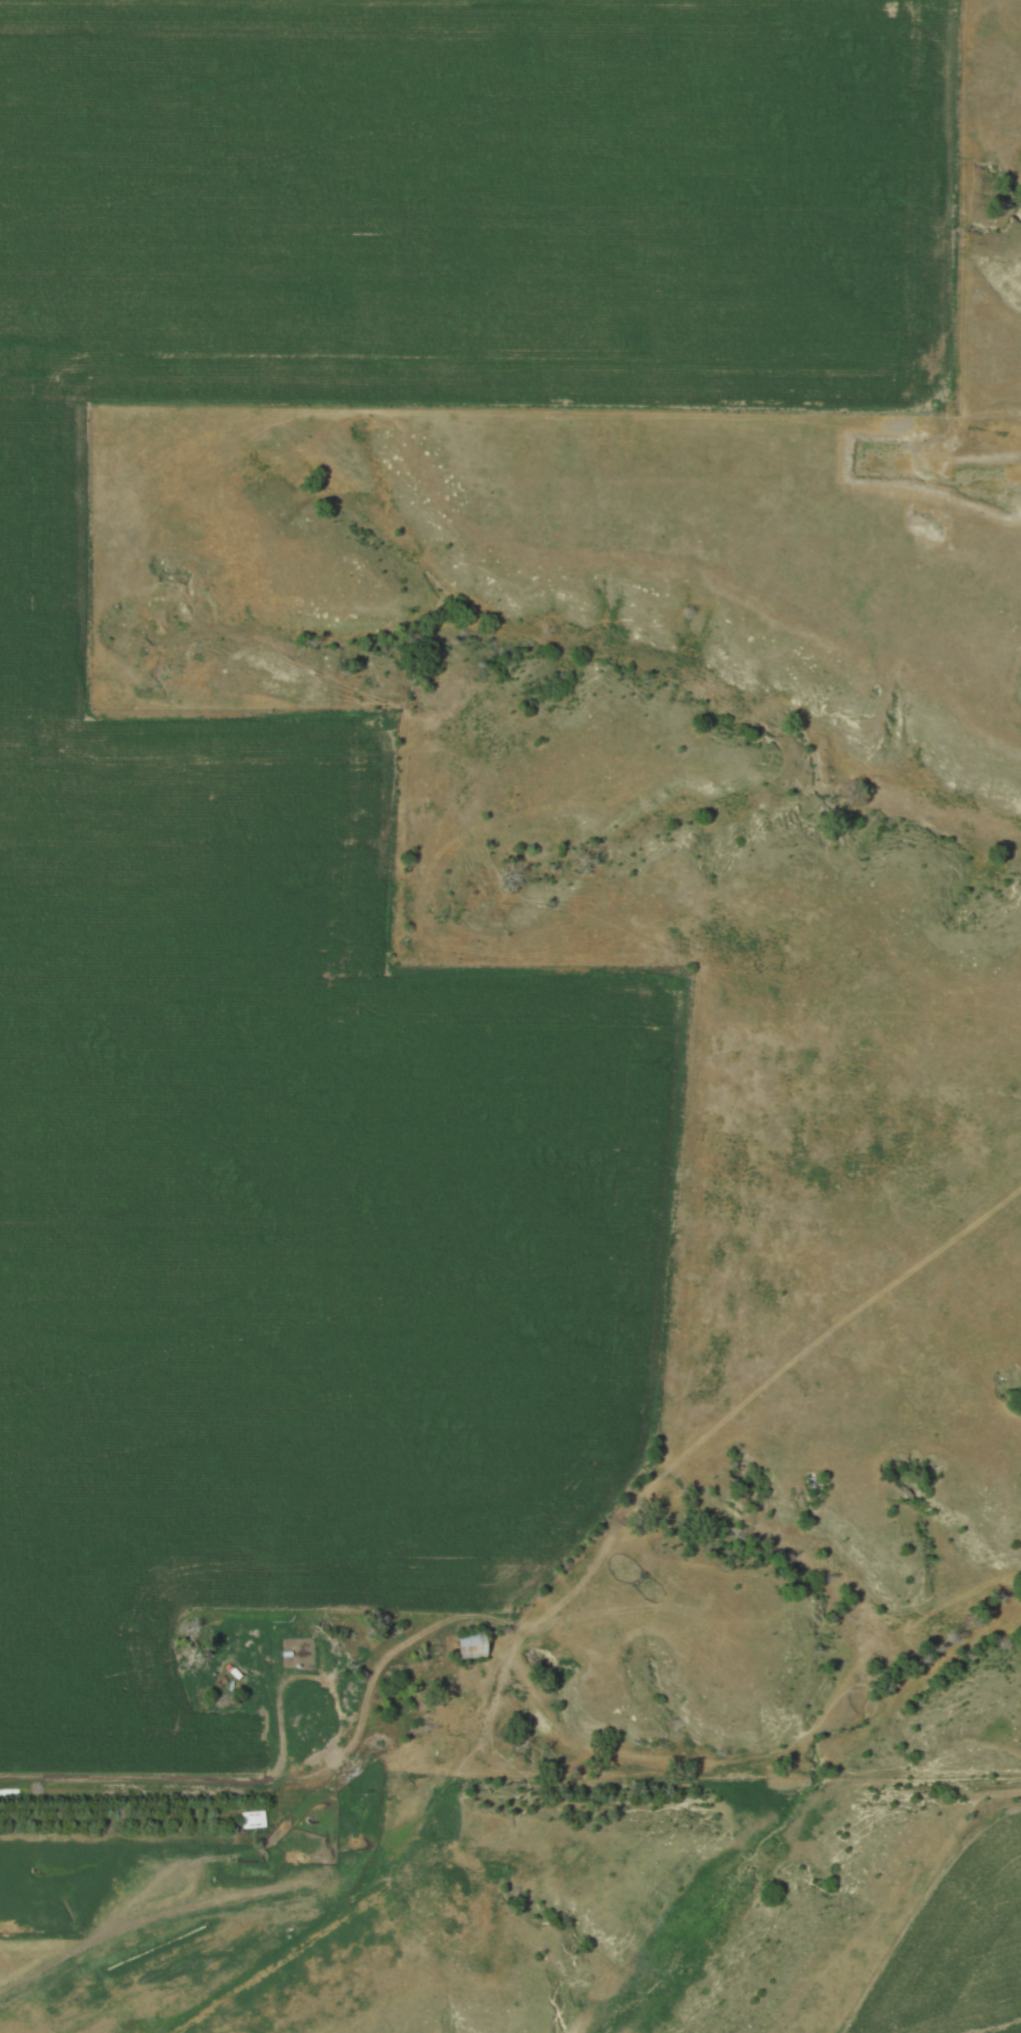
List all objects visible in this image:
building: (474, 1646)
building: (338, 1663)
road: (210, 1776)
building: (252, 1820)

